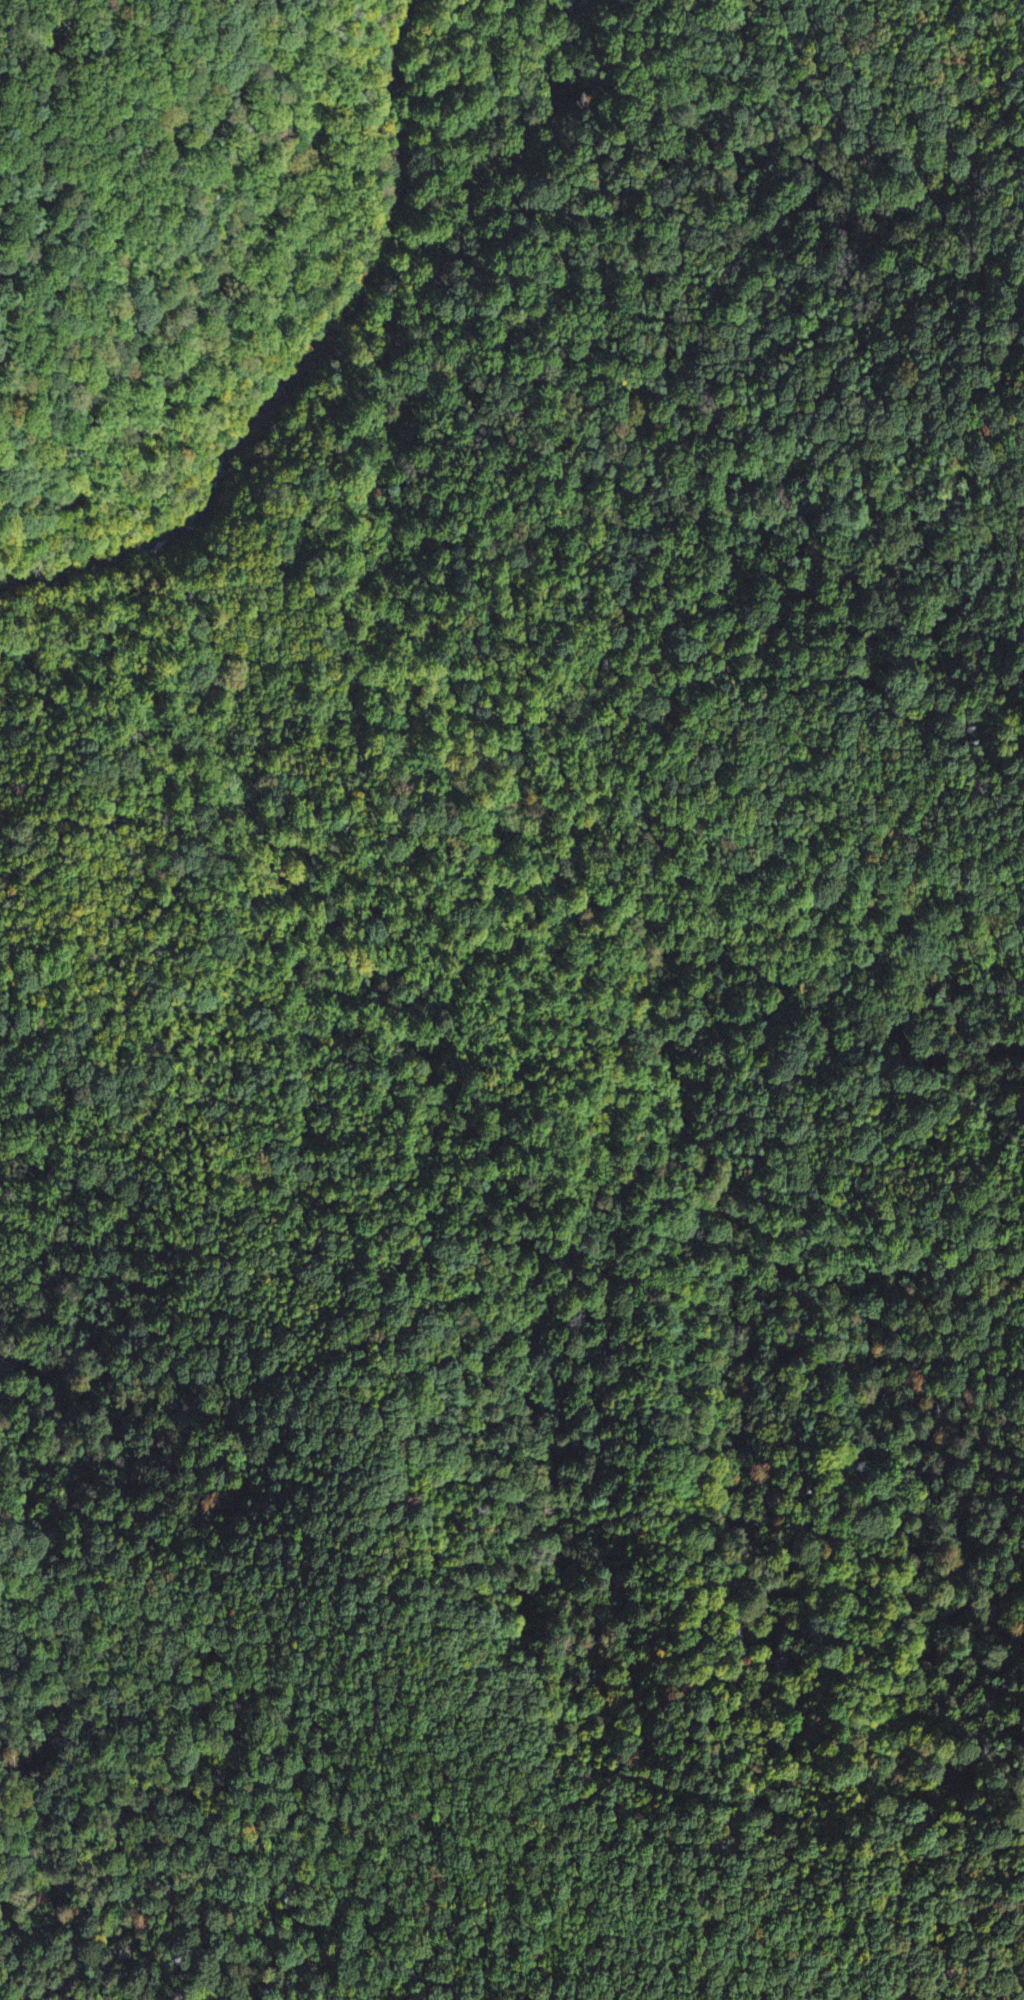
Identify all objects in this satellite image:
river: (301, 359)
road: (398, 435)

